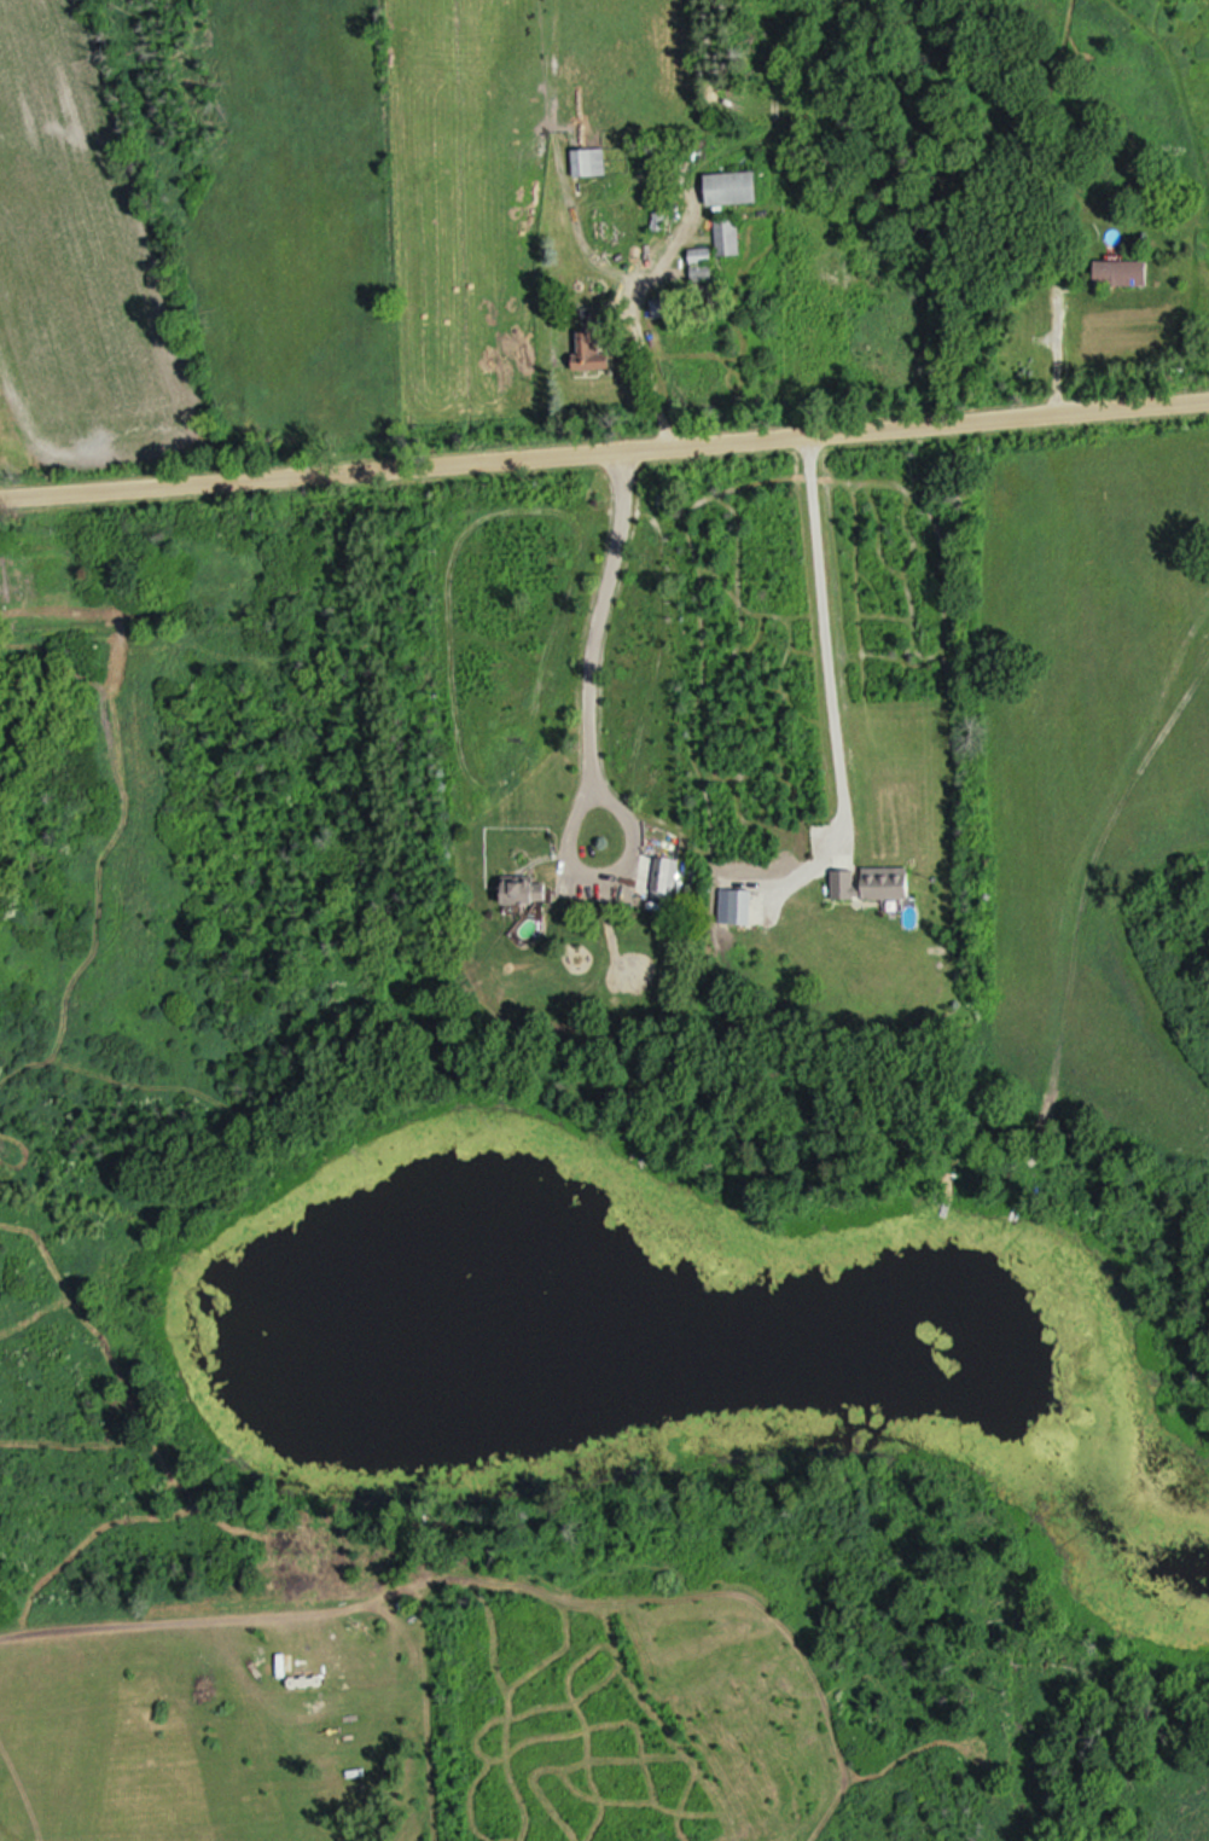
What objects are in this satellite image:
building: (589, 164)
building: (732, 190)
building: (727, 239)
building: (701, 267)
building: (1121, 275)
building: (659, 310)
road: (1064, 344)
building: (591, 355)
road: (604, 449)
road: (601, 621)
road: (835, 639)
building: (663, 877)
building: (885, 885)
building: (524, 895)

